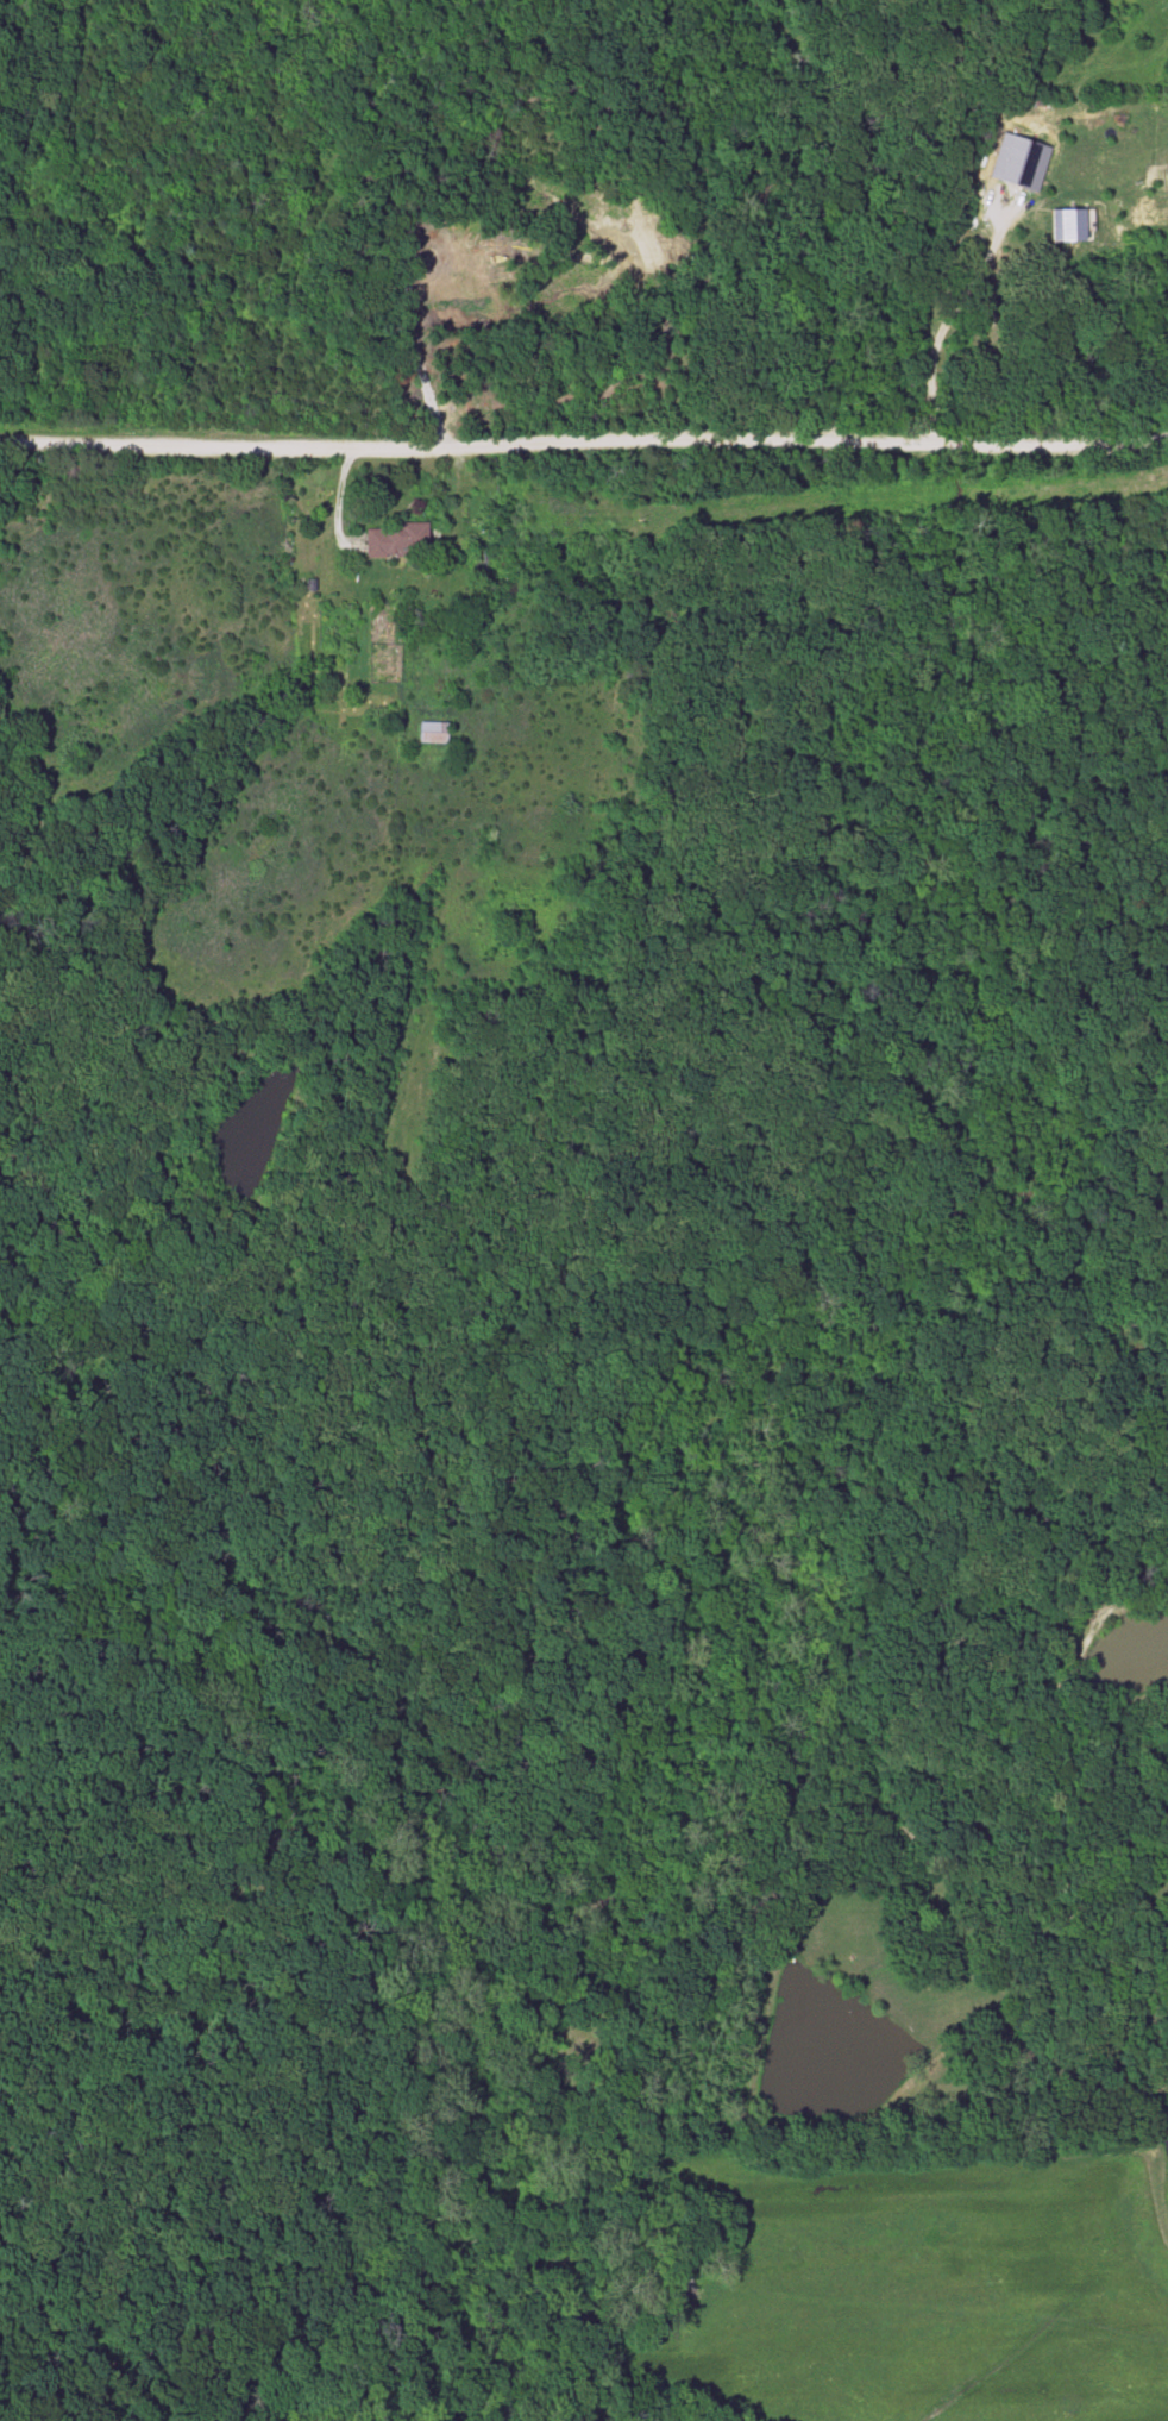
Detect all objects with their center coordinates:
road: (947, 318)
road: (583, 444)
building: (397, 541)
building: (434, 732)

